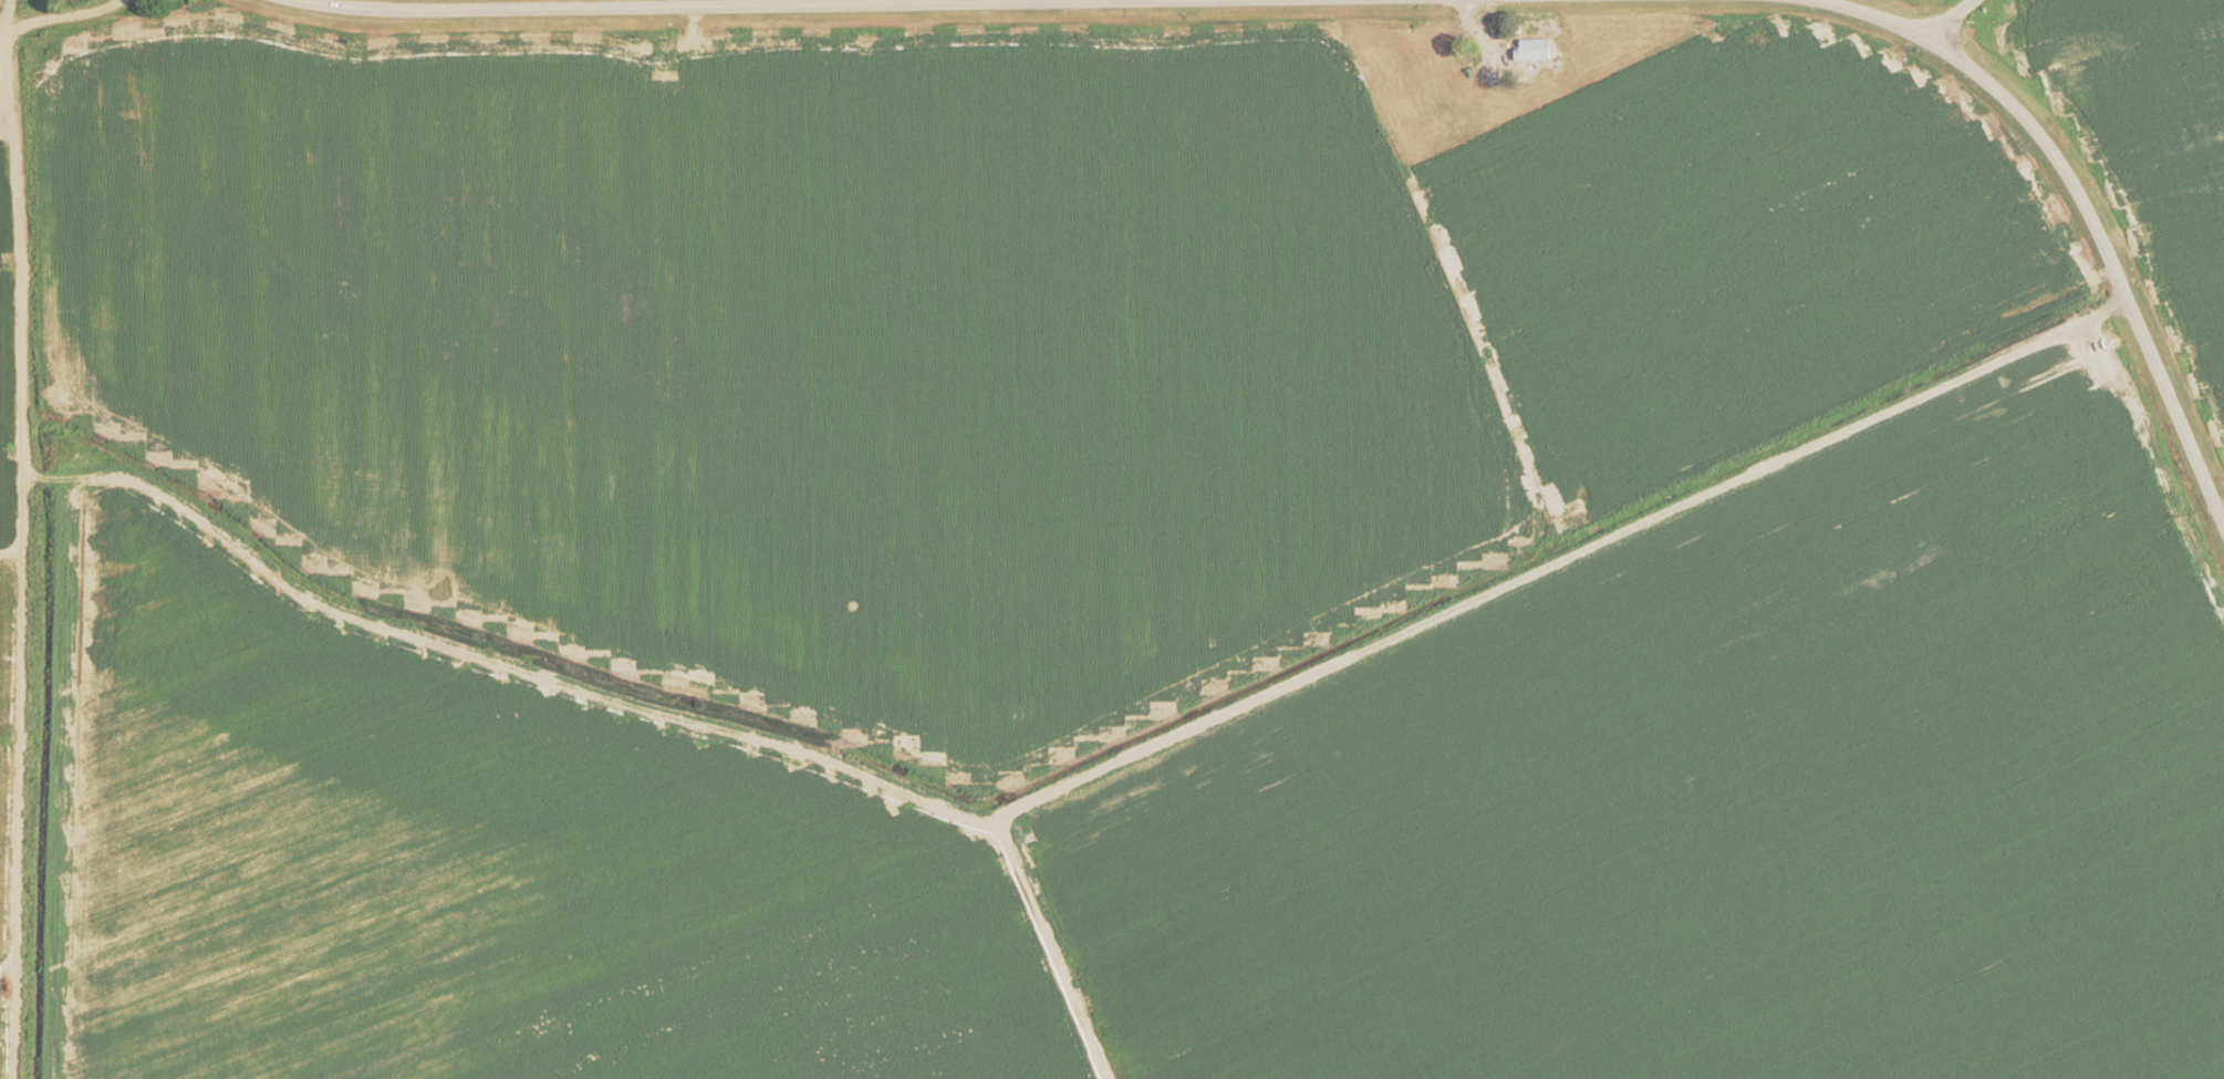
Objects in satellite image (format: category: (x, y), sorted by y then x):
road: (708, 9)
road: (67, 19)
road: (1963, 22)
building: (1531, 52)
building: (1405, 76)
building: (1464, 117)
road: (2087, 208)
road: (19, 539)
road: (1087, 777)
road: (1045, 951)

